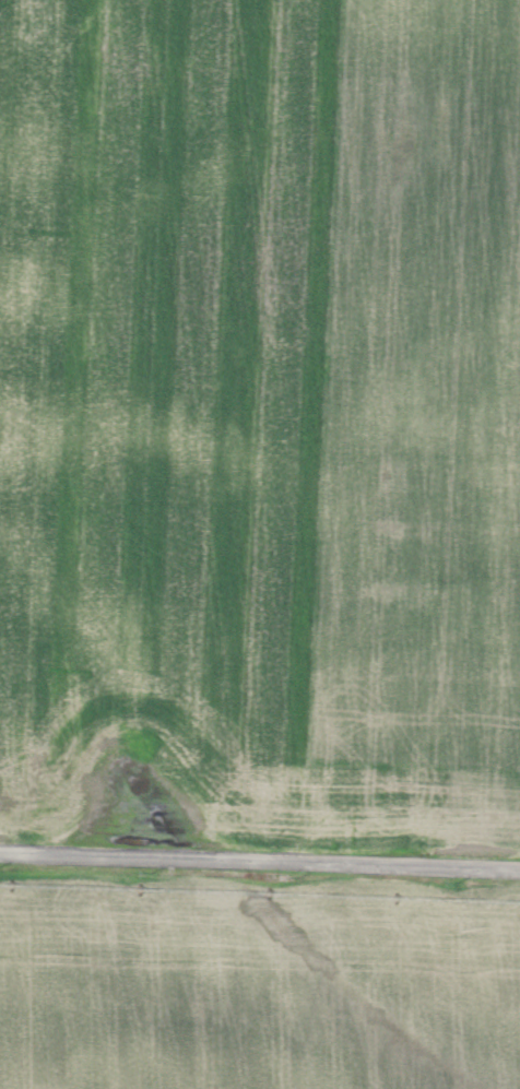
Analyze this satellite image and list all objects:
crop: (260, 419)
road: (260, 854)
crop: (256, 981)

